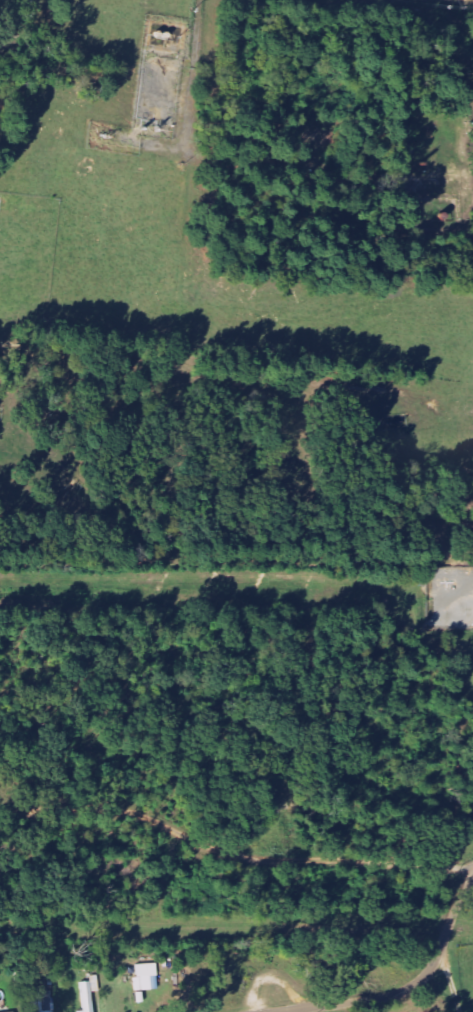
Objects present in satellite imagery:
building: (145, 974)
road: (449, 982)
road: (412, 986)
building: (91, 994)
building: (42, 1001)

